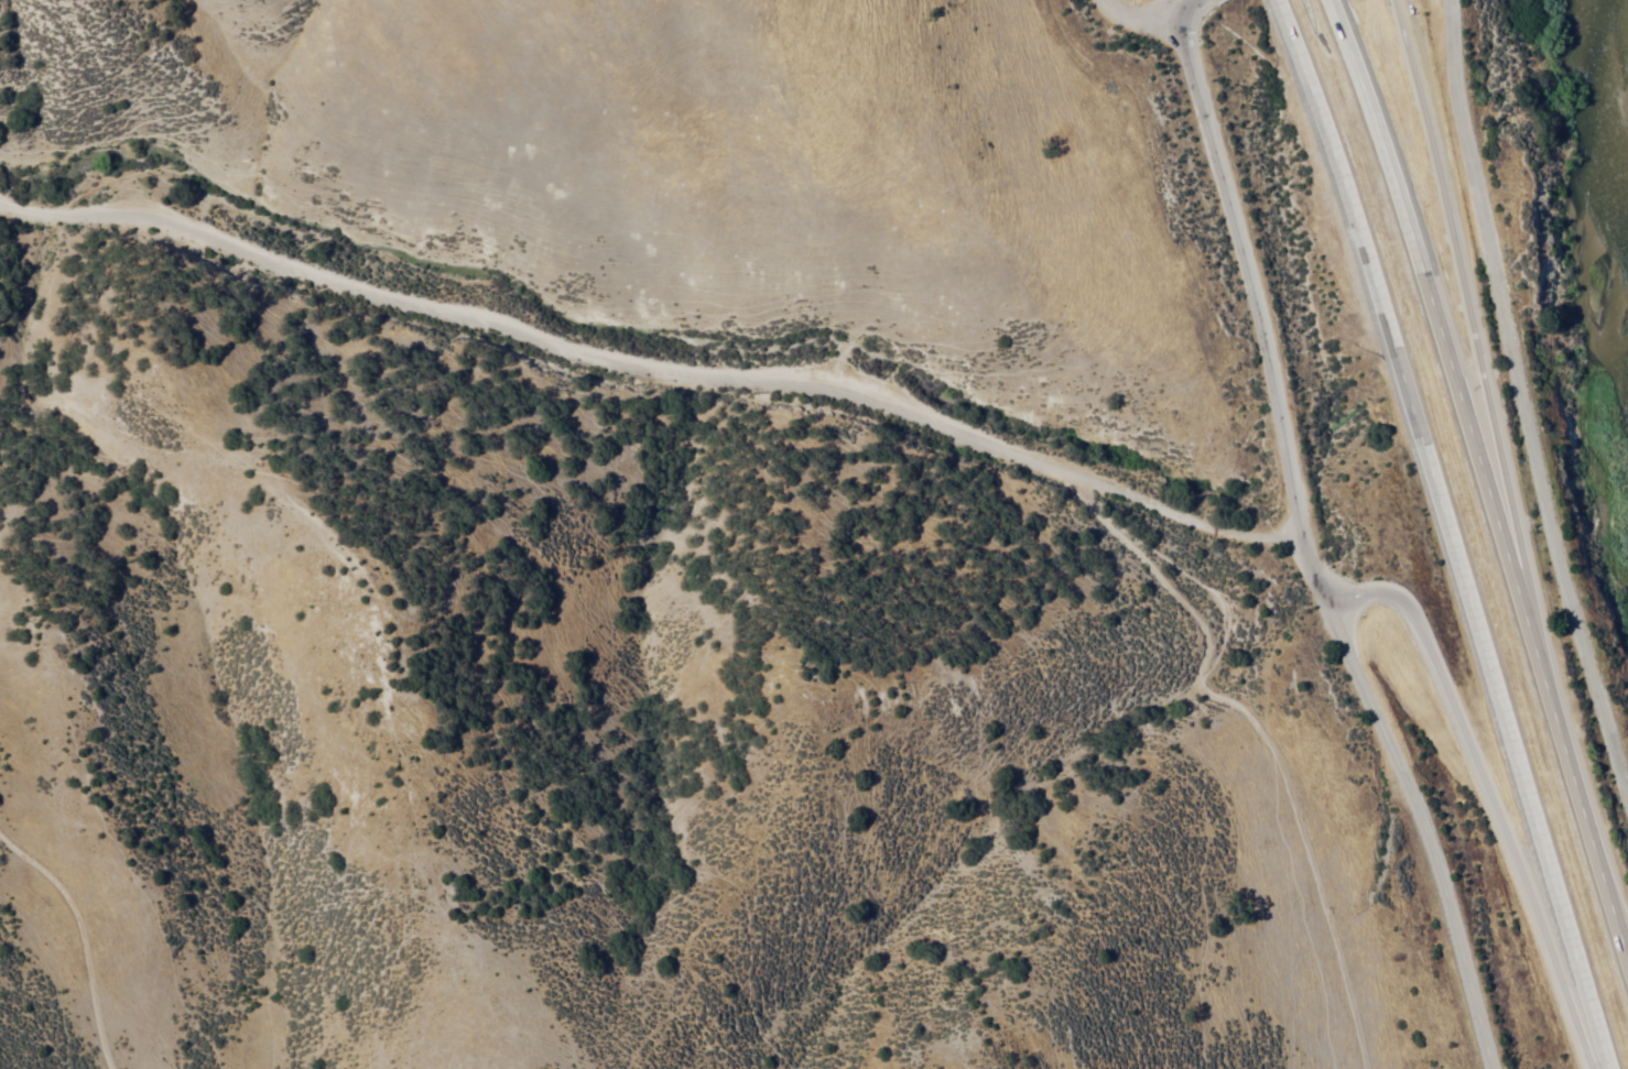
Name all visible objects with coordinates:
road: (1174, 7)
road: (1192, 7)
road: (1142, 12)
road: (1258, 306)
road: (1477, 338)
road: (649, 372)
road: (1522, 402)
road: (1483, 480)
road: (1450, 531)
road: (1489, 800)
road: (1422, 830)

